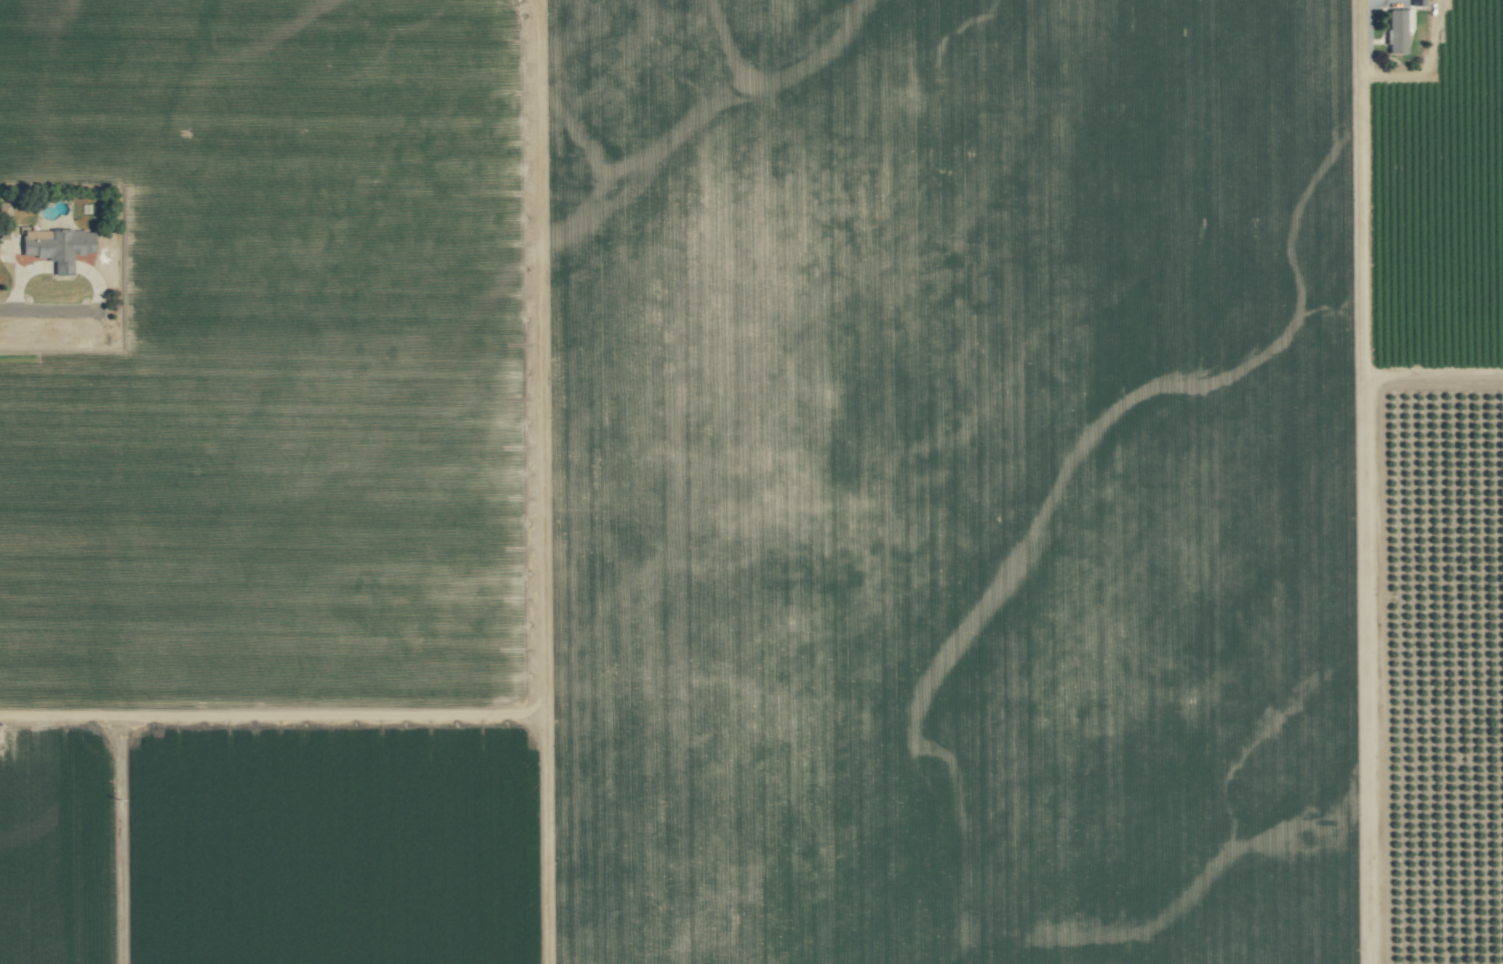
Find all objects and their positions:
building: (1397, 28)
road: (1424, 66)
building: (54, 245)
road: (45, 308)
road: (540, 482)
crop: (751, 482)
road: (1367, 482)
road: (272, 714)
road: (120, 840)

